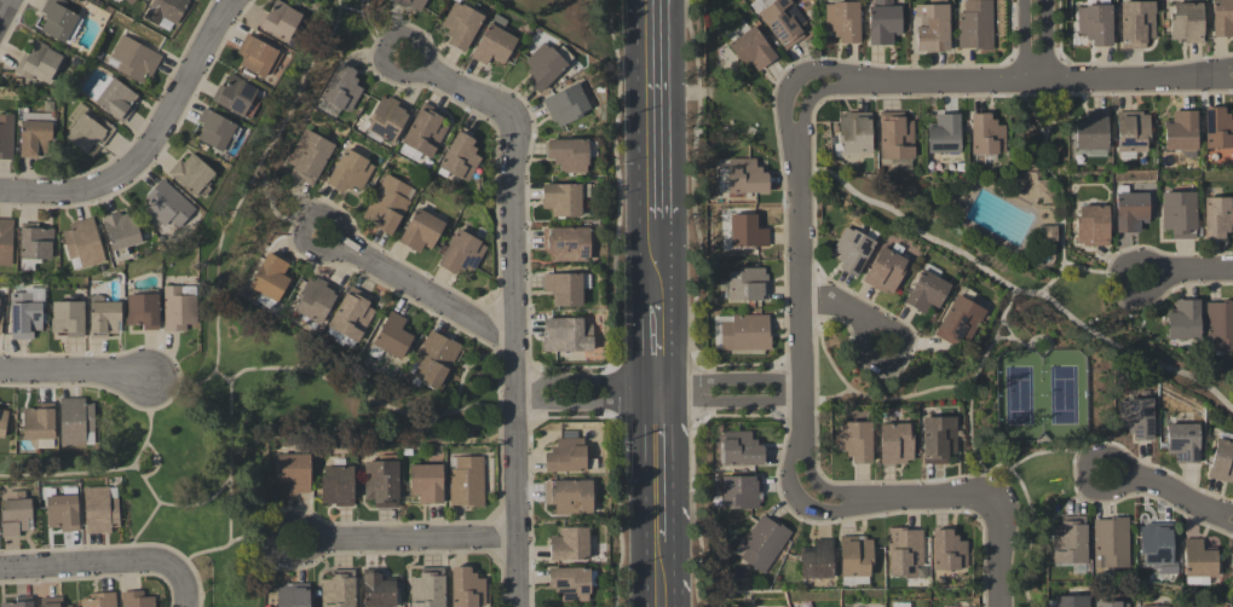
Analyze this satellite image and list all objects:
building: (128, 1)
building: (411, 4)
road: (4, 8)
building: (166, 10)
building: (1222, 18)
building: (58, 19)
building: (280, 19)
building: (843, 21)
building: (783, 22)
building: (883, 22)
building: (1187, 22)
building: (1095, 23)
building: (1136, 23)
building: (461, 24)
building: (975, 24)
building: (932, 27)
road: (370, 37)
building: (494, 42)
road: (1037, 42)
building: (749, 46)
building: (259, 56)
building: (134, 59)
building: (39, 63)
building: (546, 65)
road: (814, 70)
road: (1222, 71)
road: (1222, 82)
road: (1033, 83)
building: (341, 87)
road: (835, 88)
building: (237, 97)
road: (866, 98)
building: (116, 99)
building: (566, 104)
road: (655, 108)
road: (803, 115)
building: (387, 117)
road: (784, 117)
building: (1217, 128)
building: (87, 129)
building: (217, 129)
building: (426, 129)
building: (854, 132)
building: (1091, 132)
building: (1131, 132)
building: (1181, 133)
building: (35, 134)
building: (944, 134)
building: (894, 135)
building: (6, 137)
building: (985, 137)
road: (151, 146)
building: (569, 155)
building: (309, 156)
building: (460, 157)
building: (897, 164)
building: (350, 172)
building: (192, 173)
road: (252, 174)
building: (744, 178)
building: (1044, 191)
building: (561, 198)
building: (387, 204)
building: (168, 206)
building: (1130, 209)
building: (1179, 214)
building: (1217, 216)
road: (277, 218)
building: (1093, 226)
building: (121, 231)
building: (421, 231)
building: (747, 231)
building: (1048, 233)
building: (6, 242)
building: (36, 242)
building: (83, 242)
building: (566, 243)
building: (853, 249)
building: (461, 253)
road: (657, 260)
building: (885, 271)
road: (1100, 273)
road: (1187, 273)
building: (270, 279)
building: (748, 284)
building: (564, 288)
road: (421, 291)
building: (926, 291)
road: (796, 293)
building: (315, 300)
road: (514, 302)
road: (834, 303)
building: (178, 310)
building: (143, 311)
building: (24, 316)
building: (103, 317)
building: (350, 317)
building: (68, 318)
building: (1183, 319)
building: (958, 320)
building: (0, 323)
road: (1003, 325)
building: (1220, 325)
building: (745, 334)
building: (566, 335)
building: (393, 336)
road: (658, 342)
road: (1134, 357)
building: (434, 359)
road: (895, 364)
road: (76, 372)
road: (728, 380)
road: (588, 386)
road: (661, 392)
road: (972, 398)
park: (1016, 398)
park: (1061, 398)
road: (864, 401)
road: (731, 403)
road: (589, 405)
road: (388, 409)
building: (1136, 417)
building: (75, 421)
building: (2, 422)
building: (39, 422)
road: (230, 428)
building: (938, 439)
building: (855, 440)
building: (1183, 443)
building: (895, 444)
building: (741, 450)
road: (1059, 455)
building: (569, 457)
building: (1222, 462)
road: (662, 468)
road: (156, 469)
road: (114, 472)
building: (294, 472)
building: (466, 482)
building: (381, 484)
building: (426, 484)
building: (336, 486)
road: (820, 487)
building: (741, 491)
road: (1157, 491)
building: (569, 496)
road: (928, 499)
road: (801, 505)
road: (1035, 507)
building: (100, 510)
road: (1222, 511)
building: (15, 513)
building: (63, 513)
road: (229, 513)
road: (149, 521)
road: (1221, 524)
road: (409, 539)
building: (1068, 540)
road: (234, 542)
building: (764, 543)
building: (570, 544)
building: (1111, 544)
building: (1157, 548)
building: (947, 551)
building: (904, 553)
road: (1004, 553)
building: (854, 556)
building: (817, 561)
building: (1197, 561)
road: (90, 565)
road: (662, 570)
building: (852, 580)
building: (572, 583)
road: (186, 586)
building: (466, 588)
building: (338, 589)
building: (427, 589)
building: (378, 590)
building: (292, 595)
building: (100, 600)
building: (136, 600)
building: (1071, 601)
building: (15, 602)
building: (53, 602)
building: (1111, 605)
building: (1154, 606)

